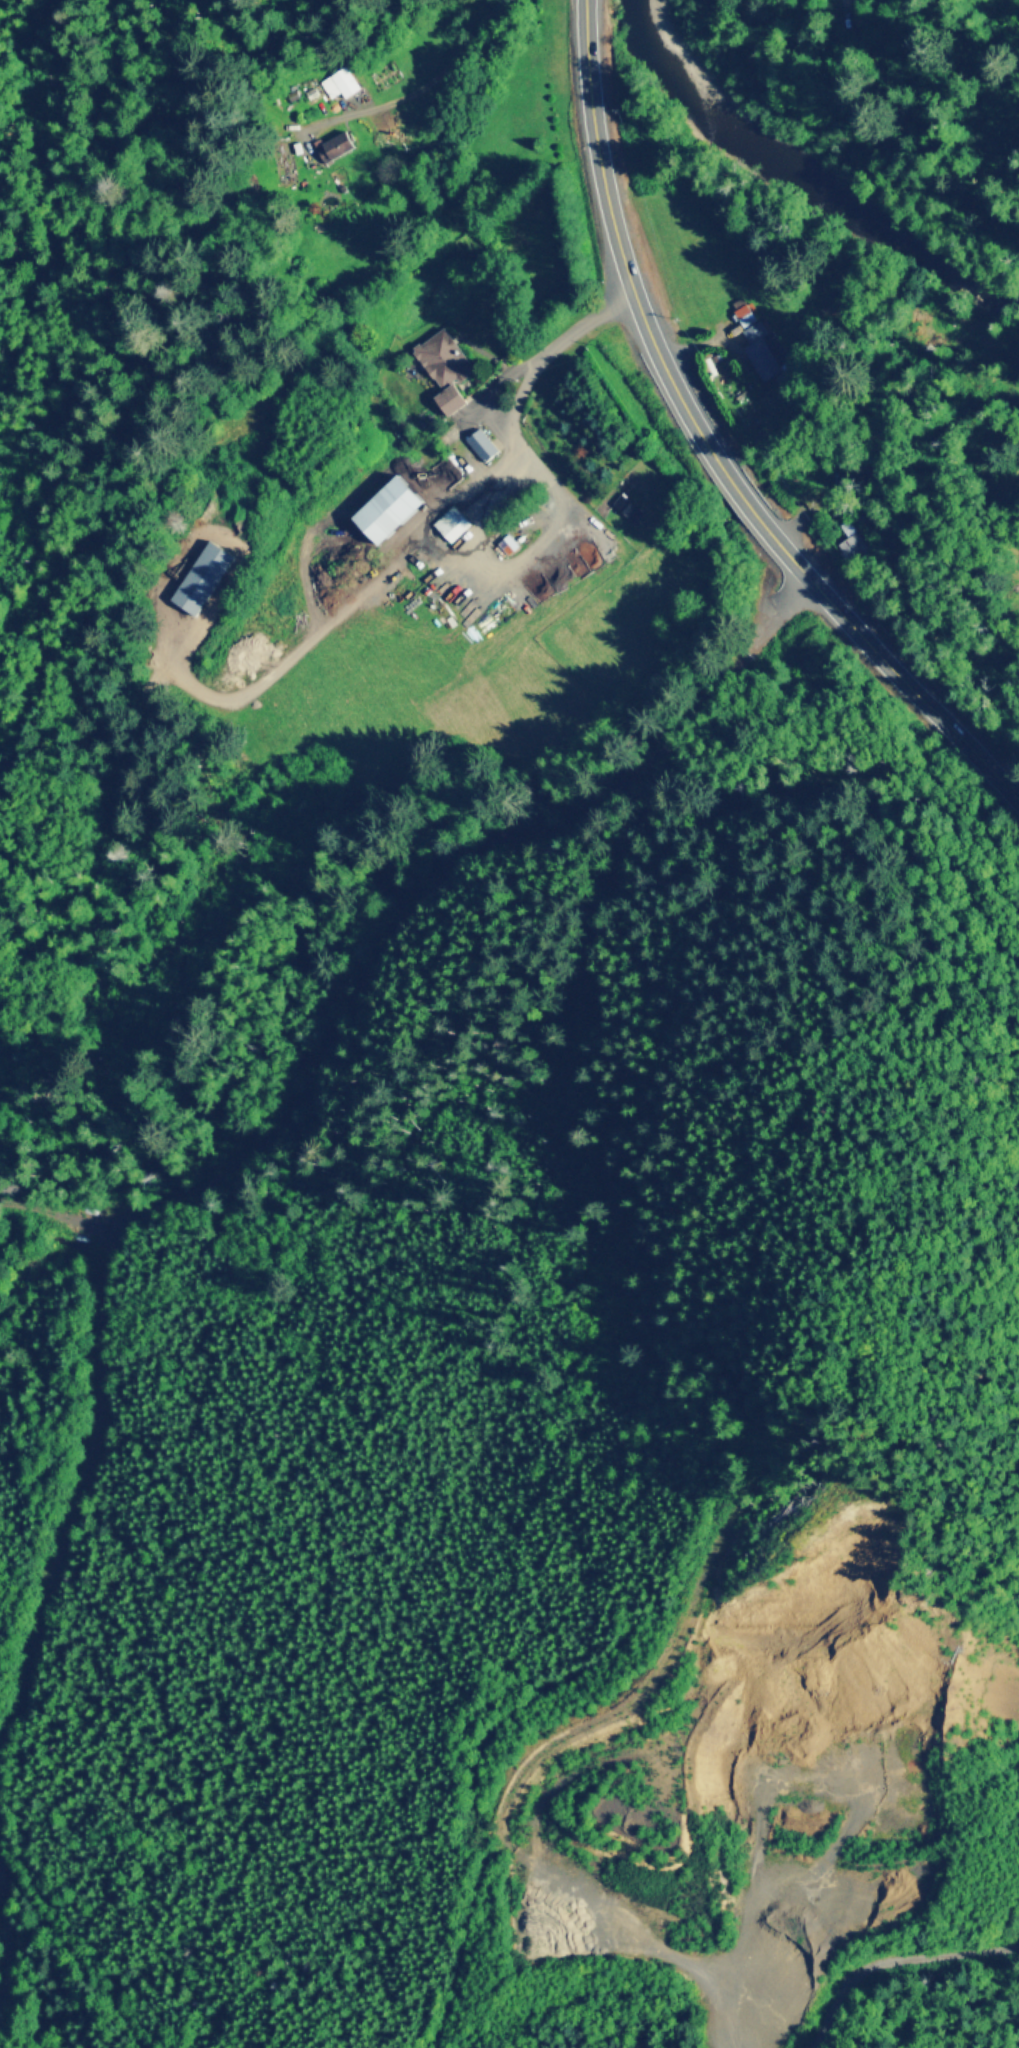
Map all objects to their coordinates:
road: (857, 27)
building: (339, 81)
road: (414, 93)
building: (332, 144)
road: (905, 173)
river: (804, 175)
road: (623, 251)
building: (743, 310)
building: (765, 354)
building: (443, 366)
road: (513, 418)
building: (619, 500)
road: (747, 501)
building: (386, 508)
building: (450, 522)
building: (506, 542)
building: (850, 545)
building: (201, 576)
road: (890, 664)
road: (396, 916)
road: (73, 1490)
road: (574, 1772)
quarry: (733, 1813)
road: (789, 1901)
road: (473, 1911)
road: (8, 1936)
road: (894, 1960)
road: (88, 1988)

